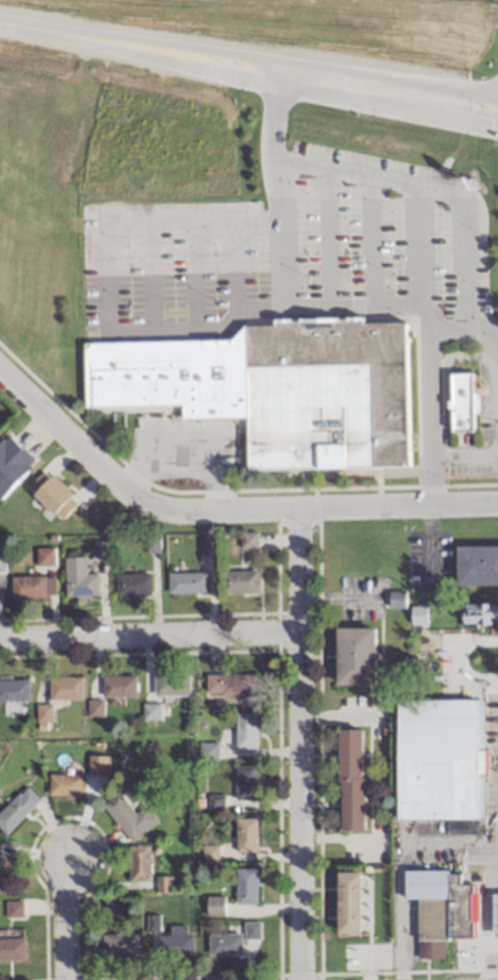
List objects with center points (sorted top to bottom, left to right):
road: (48, 32)
road: (297, 69)
road: (280, 75)
road: (297, 87)
road: (327, 239)
road: (371, 242)
road: (353, 306)
road: (178, 328)
building: (273, 389)
road: (494, 391)
building: (460, 402)
building: (11, 464)
road: (430, 478)
building: (54, 498)
road: (223, 508)
building: (44, 557)
building: (1, 562)
building: (476, 565)
building: (77, 579)
building: (239, 582)
building: (186, 583)
building: (131, 585)
building: (30, 587)
building: (479, 614)
road: (149, 636)
building: (353, 657)
building: (170, 685)
building: (229, 685)
building: (117, 686)
building: (64, 688)
building: (12, 694)
building: (94, 708)
building: (150, 712)
building: (42, 713)
building: (244, 730)
road: (300, 743)
building: (207, 751)
building: (89, 763)
building: (439, 764)
building: (350, 780)
building: (244, 783)
building: (63, 785)
building: (16, 809)
building: (128, 818)
building: (245, 835)
road: (402, 863)
building: (137, 864)
building: (1, 879)
building: (163, 885)
building: (244, 888)
building: (347, 903)
building: (213, 907)
building: (20, 909)
building: (439, 910)
building: (495, 916)
road: (64, 920)
road: (491, 926)
building: (173, 943)
building: (223, 945)
road: (495, 946)
building: (118, 947)
building: (11, 950)

